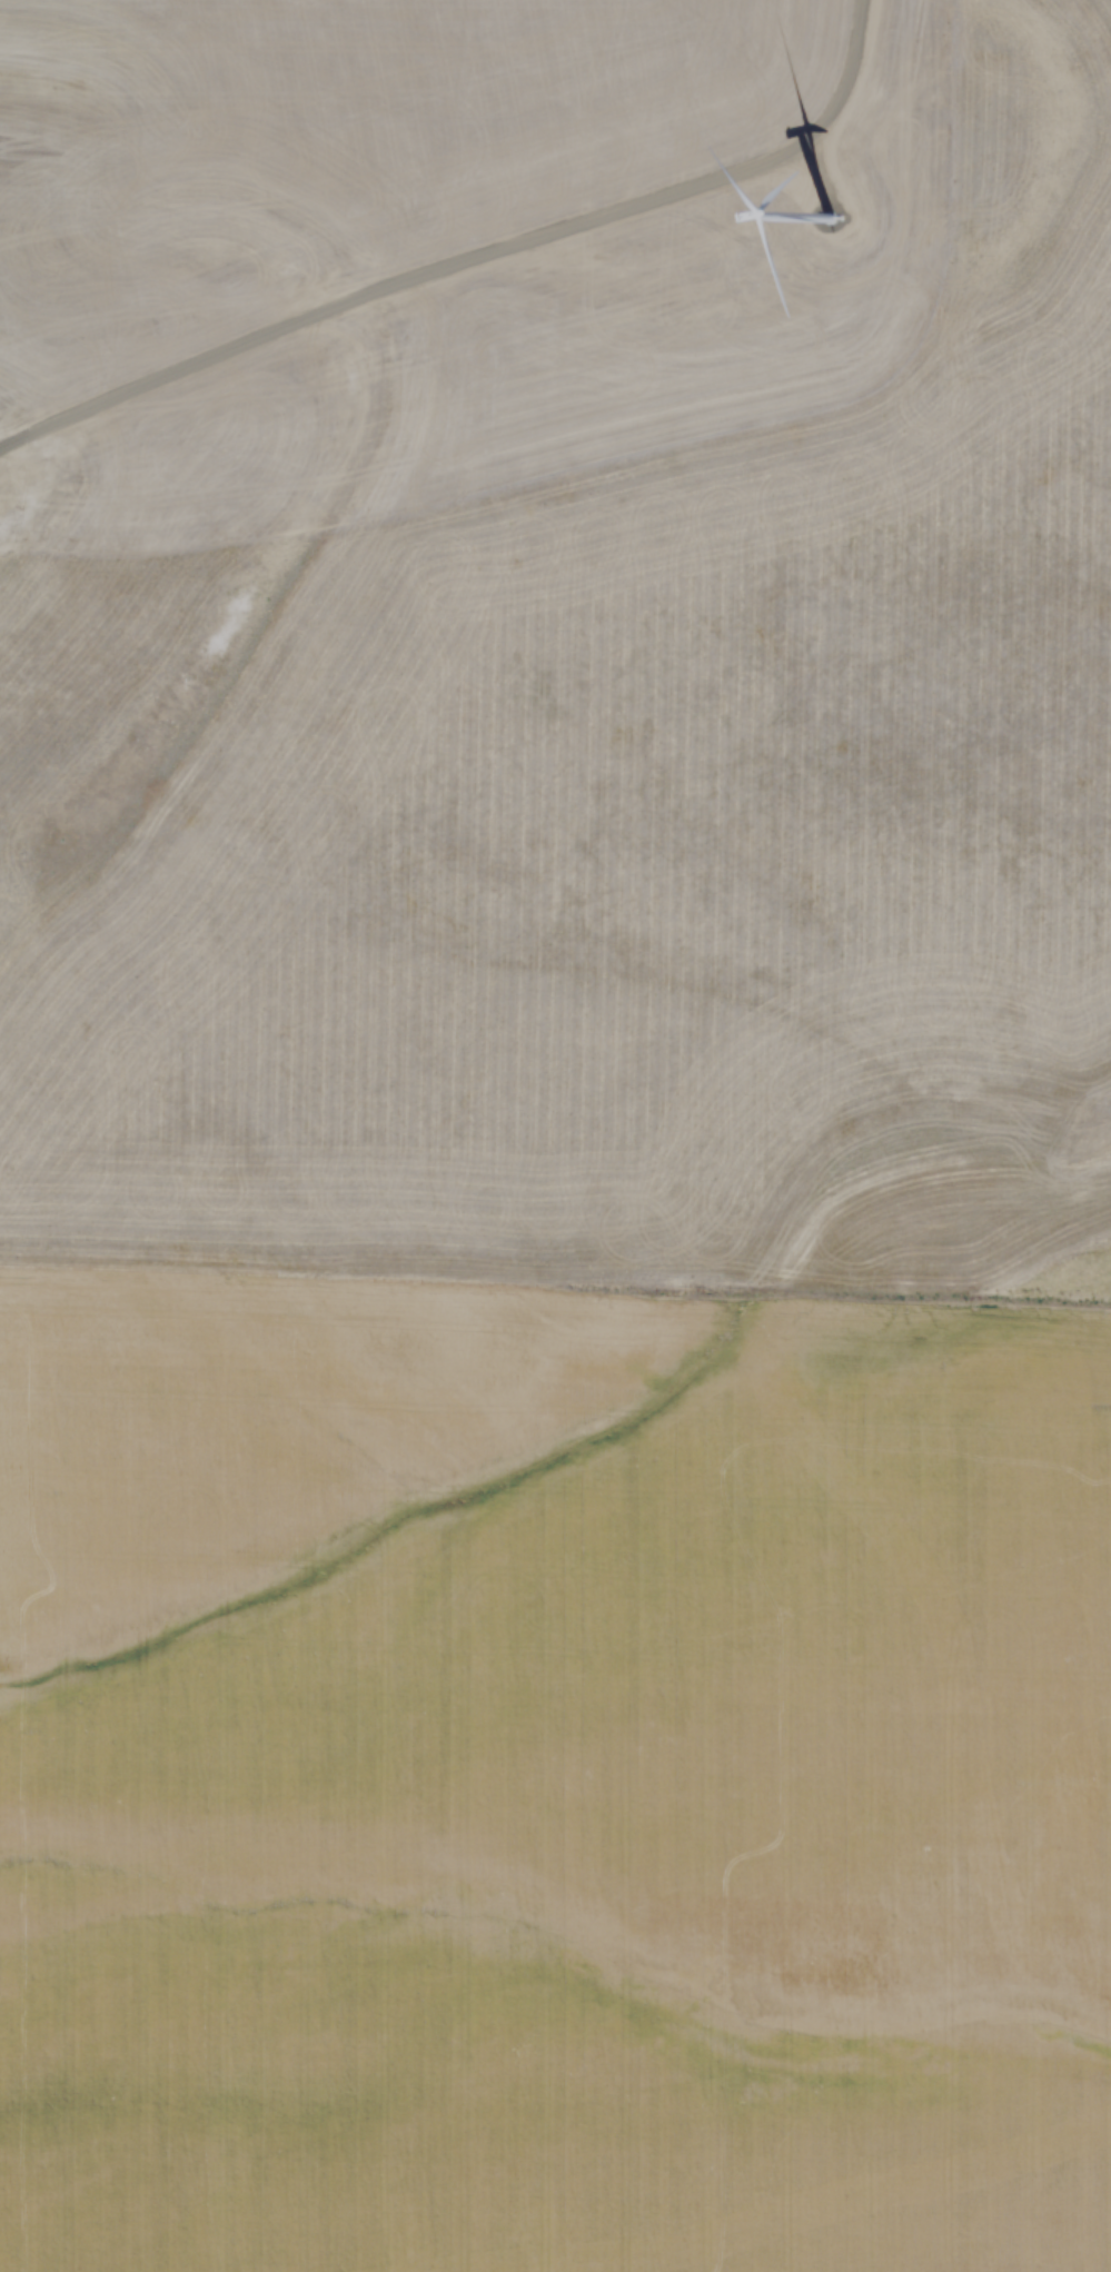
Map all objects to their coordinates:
wind turbine: (802, 225)

